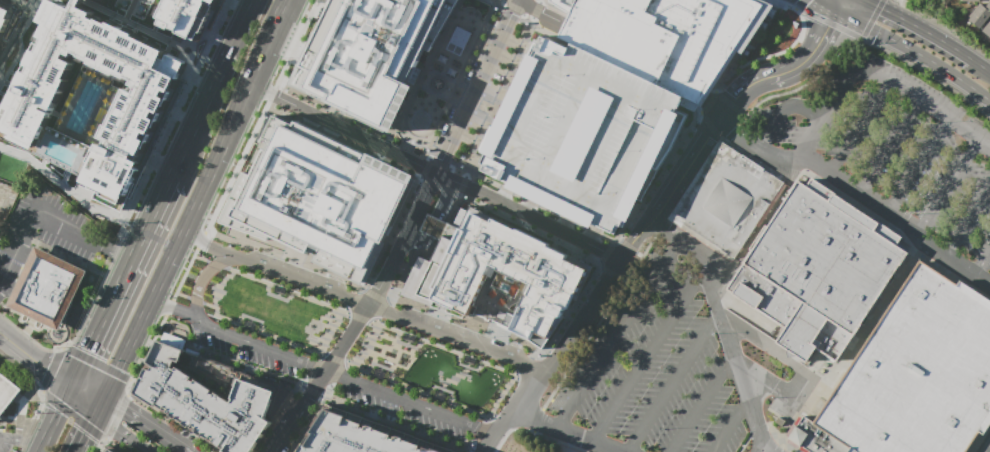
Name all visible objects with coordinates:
building: (970, 0)
road: (498, 1)
road: (504, 1)
road: (25, 4)
road: (33, 4)
road: (784, 4)
road: (825, 5)
road: (839, 5)
road: (844, 5)
road: (537, 8)
road: (795, 8)
traffic signals: (881, 8)
road: (518, 9)
road: (544, 10)
building: (979, 15)
building: (4, 16)
building: (189, 16)
road: (871, 19)
road: (131, 22)
road: (829, 23)
traffic signals: (829, 26)
road: (918, 27)
building: (987, 29)
road: (18, 35)
building: (665, 37)
road: (295, 44)
fountain: (187, 49)
building: (367, 50)
road: (916, 52)
road: (638, 55)
road: (768, 55)
road: (980, 64)
road: (786, 72)
road: (928, 74)
road: (457, 79)
road: (880, 79)
fountain: (438, 82)
road: (208, 89)
road: (432, 90)
road: (271, 94)
road: (500, 96)
road: (713, 109)
road: (784, 109)
building: (139, 114)
fountain: (420, 120)
road: (395, 124)
road: (860, 128)
road: (413, 130)
building: (581, 137)
parking lot: (581, 137)
road: (343, 139)
parking lot: (308, 143)
parking lot: (902, 144)
road: (384, 146)
road: (892, 146)
road: (445, 153)
road: (237, 165)
road: (664, 165)
road: (921, 165)
road: (424, 167)
road: (447, 167)
road: (687, 169)
road: (437, 172)
road: (438, 185)
road: (461, 185)
road: (949, 186)
road: (68, 190)
building: (319, 191)
road: (861, 191)
road: (4, 199)
parking lot: (6, 199)
building: (726, 199)
road: (196, 202)
road: (540, 205)
road: (45, 220)
road: (967, 224)
parking lot: (44, 229)
road: (201, 240)
road: (205, 244)
road: (424, 249)
road: (605, 251)
road: (194, 252)
road: (981, 263)
building: (818, 269)
building: (504, 270)
road: (116, 280)
road: (202, 280)
road: (299, 280)
road: (343, 281)
road: (218, 286)
building: (46, 288)
road: (374, 293)
road: (599, 299)
road: (354, 300)
road: (213, 306)
road: (175, 308)
park: (274, 311)
road: (570, 314)
road: (724, 325)
road: (329, 331)
road: (370, 331)
road: (620, 332)
road: (6, 337)
road: (347, 339)
road: (457, 342)
road: (850, 349)
traffic signals: (83, 350)
road: (148, 350)
parking lot: (245, 354)
road: (650, 355)
parking lot: (654, 365)
road: (799, 368)
traffic signals: (46, 369)
park: (430, 369)
road: (501, 371)
road: (54, 374)
building: (912, 376)
road: (343, 379)
road: (674, 382)
building: (9, 393)
building: (210, 397)
road: (308, 398)
road: (798, 402)
road: (703, 403)
road: (104, 405)
road: (520, 406)
traffic signals: (126, 407)
parking lot: (402, 412)
road: (51, 417)
building: (780, 421)
road: (486, 423)
road: (150, 424)
road: (731, 424)
road: (89, 427)
road: (570, 429)
traffic signals: (86, 433)
road: (124, 433)
building: (356, 436)
road: (281, 438)
road: (19, 439)
parking lot: (5, 441)
road: (486, 442)
road: (572, 442)
building: (111, 450)
road: (762, 450)
road: (765, 450)
parking lot: (782, 451)
road: (989, 451)

